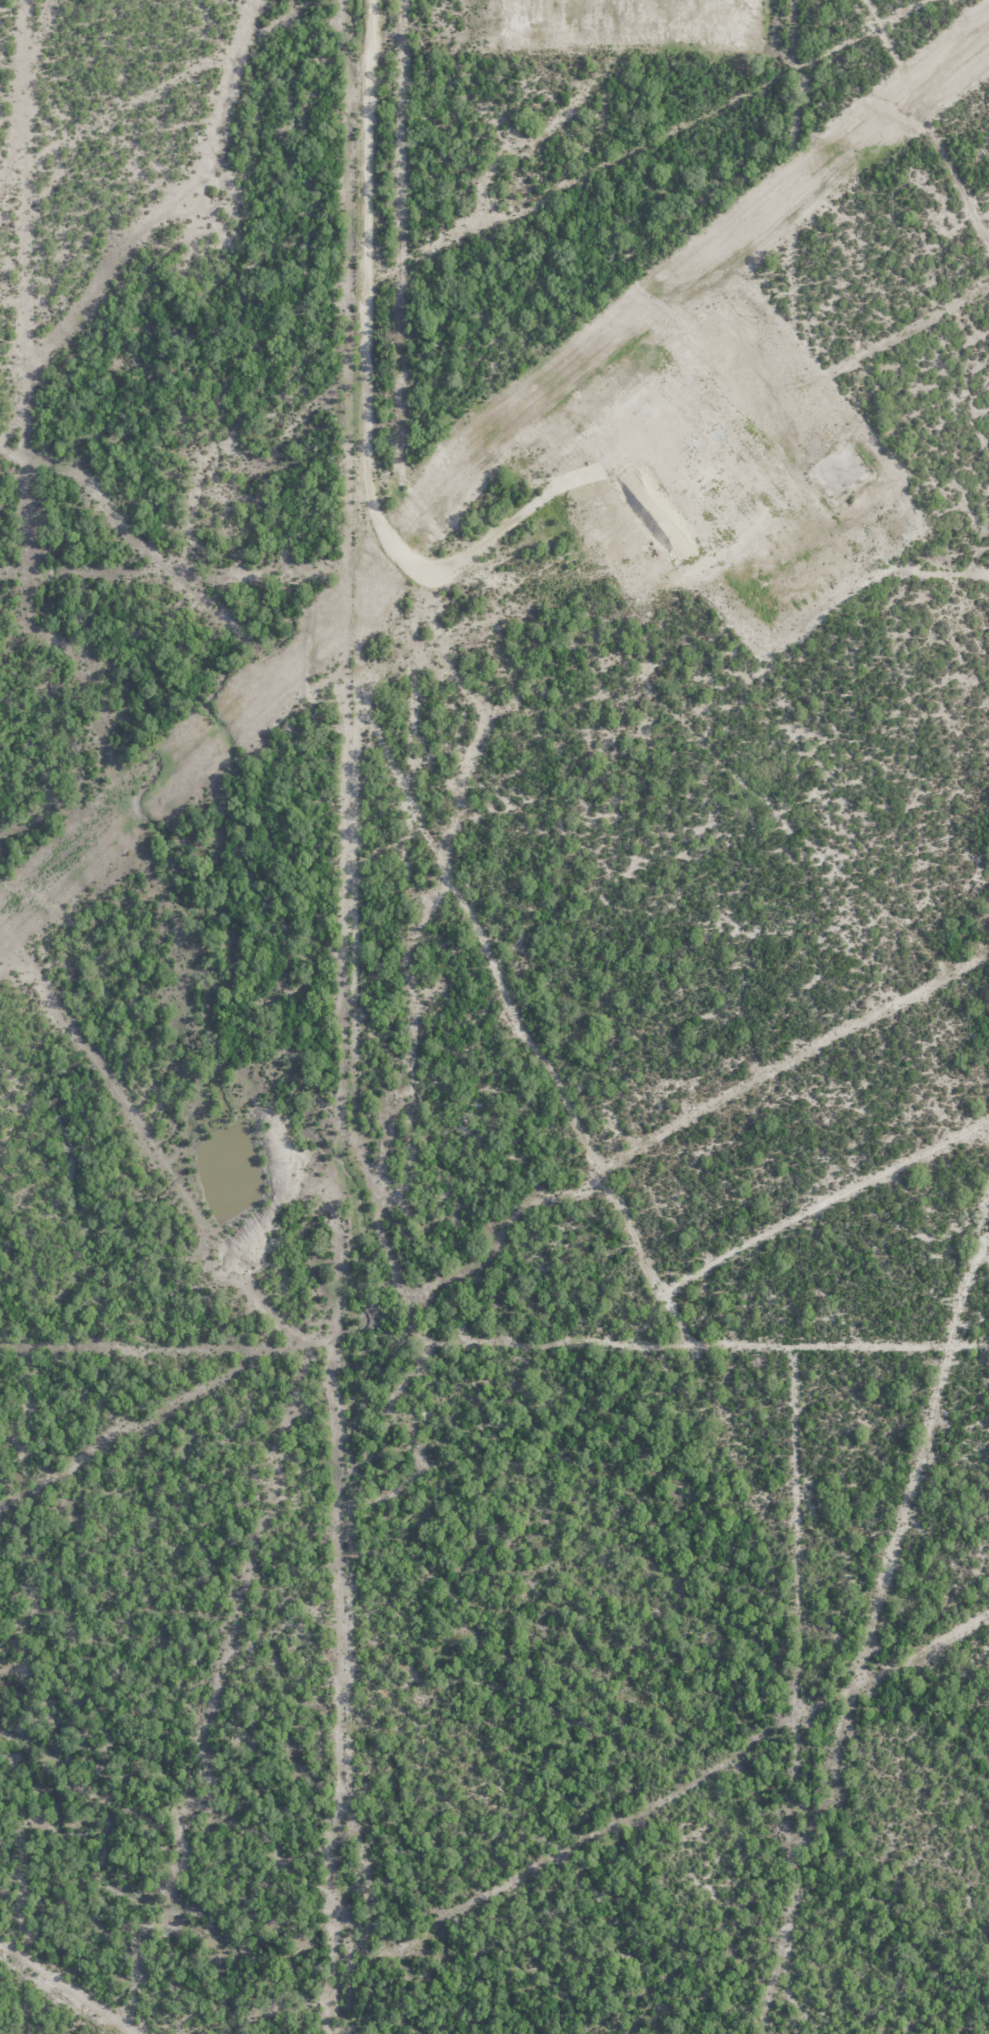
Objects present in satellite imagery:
road: (369, 389)

